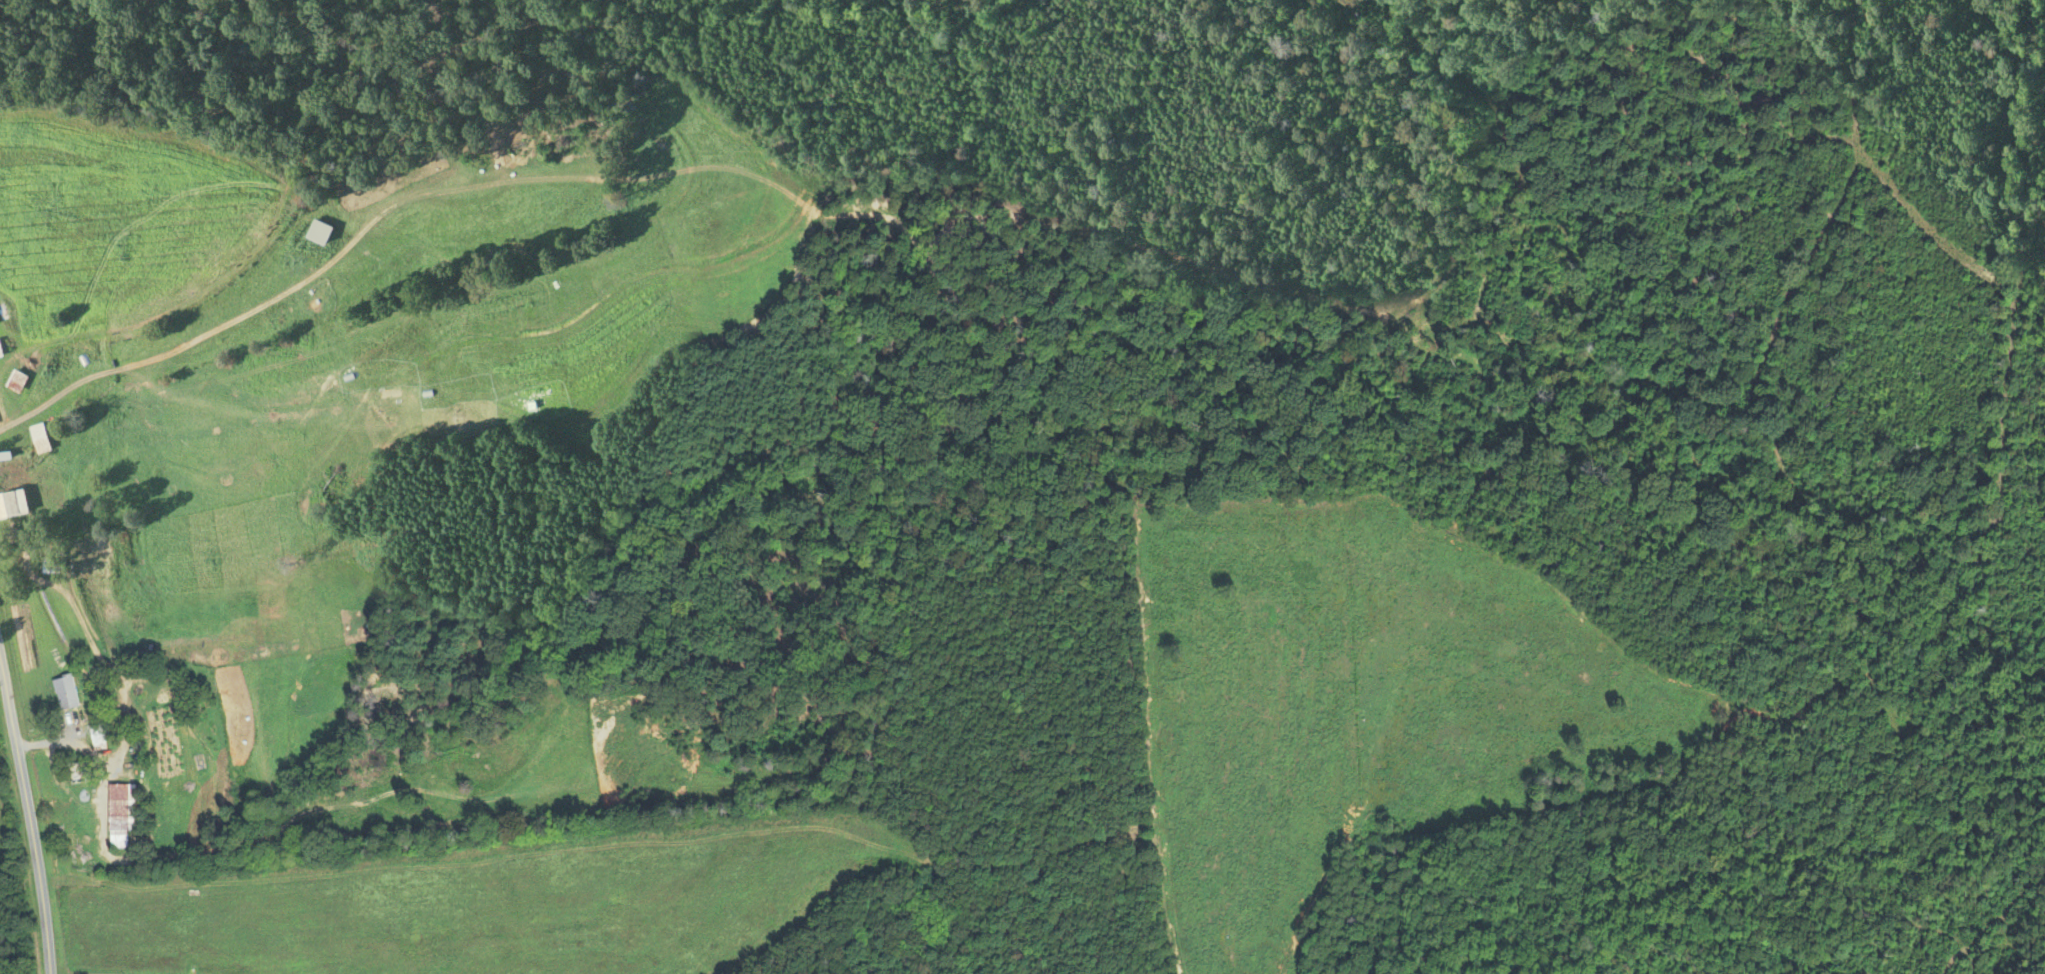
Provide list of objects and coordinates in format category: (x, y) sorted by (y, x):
building: (322, 231)
building: (3, 346)
building: (15, 379)
road: (38, 406)
building: (39, 436)
building: (14, 505)
building: (52, 560)
building: (68, 691)
building: (102, 733)
building: (83, 770)
road: (108, 772)
building: (125, 812)
road: (27, 814)

